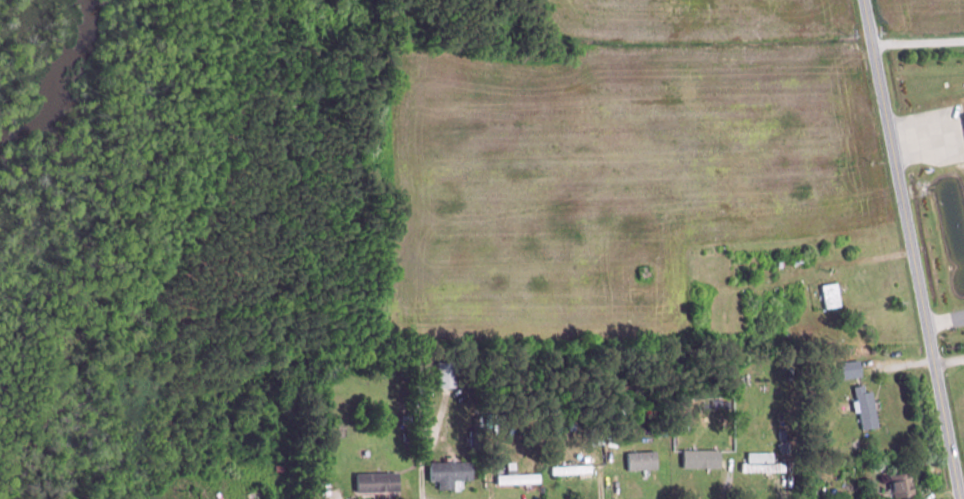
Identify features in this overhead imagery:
crop: (920, 15)
road: (918, 41)
building: (963, 114)
road: (929, 143)
road: (913, 249)
building: (829, 294)
road: (946, 320)
road: (950, 356)
building: (848, 368)
building: (444, 374)
building: (864, 406)
building: (702, 458)
building: (640, 459)
building: (761, 466)
building: (569, 468)
building: (447, 472)
building: (516, 478)
building: (374, 481)
building: (899, 484)

